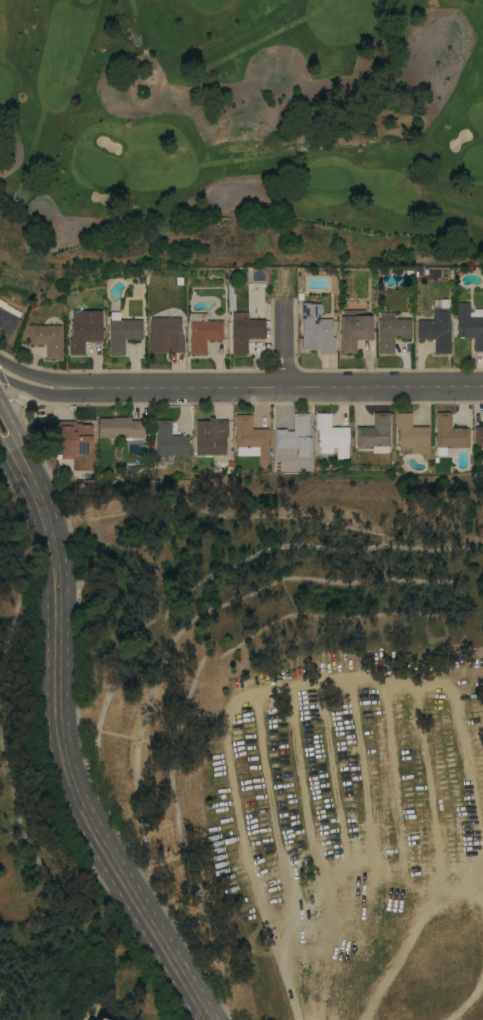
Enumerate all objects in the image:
park: (244, 128)
building: (7, 316)
building: (469, 323)
building: (436, 326)
building: (84, 328)
building: (316, 328)
building: (355, 328)
building: (392, 329)
building: (245, 330)
building: (122, 331)
building: (203, 331)
building: (165, 333)
building: (47, 337)
road: (286, 344)
road: (32, 374)
road: (17, 385)
road: (273, 386)
road: (49, 392)
road: (16, 404)
road: (5, 416)
building: (121, 428)
building: (329, 432)
building: (375, 432)
building: (411, 433)
building: (448, 433)
building: (295, 434)
building: (479, 434)
building: (210, 435)
road: (11, 436)
building: (72, 437)
building: (251, 437)
road: (6, 438)
building: (169, 440)
park: (325, 638)
road: (283, 685)
road: (65, 745)
road: (367, 873)
road: (402, 948)
road: (470, 1001)
building: (93, 1019)
building: (99, 1019)

